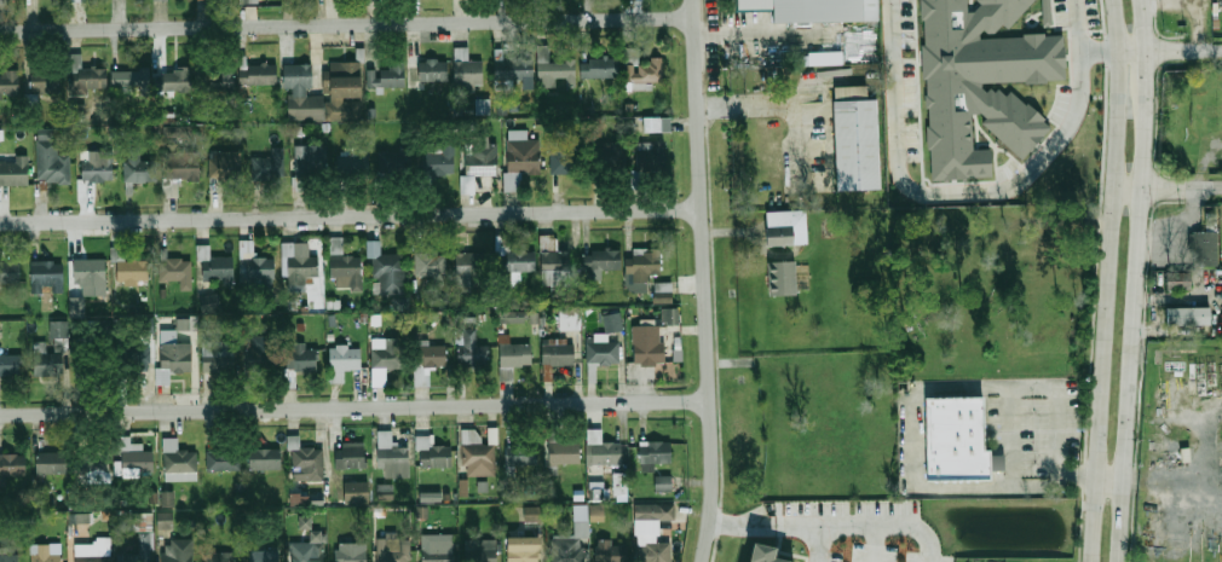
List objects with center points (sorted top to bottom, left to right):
building: (249, 0)
building: (822, 7)
building: (1049, 8)
road: (345, 23)
road: (734, 33)
building: (864, 40)
road: (1077, 46)
road: (1170, 50)
building: (513, 65)
building: (599, 66)
building: (466, 68)
building: (554, 69)
building: (645, 69)
building: (432, 70)
building: (258, 74)
building: (386, 75)
building: (83, 77)
building: (131, 77)
building: (985, 79)
building: (44, 81)
building: (169, 81)
building: (220, 81)
building: (8, 82)
building: (345, 91)
building: (301, 94)
road: (768, 104)
building: (482, 106)
building: (657, 123)
building: (177, 131)
building: (858, 135)
building: (612, 155)
building: (650, 155)
building: (482, 160)
building: (520, 161)
building: (52, 162)
building: (310, 162)
building: (396, 162)
building: (438, 162)
building: (566, 162)
building: (352, 163)
building: (269, 164)
building: (98, 166)
building: (138, 166)
building: (229, 166)
building: (179, 170)
building: (13, 172)
road: (1166, 189)
road: (944, 196)
road: (350, 215)
building: (788, 227)
building: (1204, 247)
building: (606, 259)
building: (512, 261)
building: (553, 261)
building: (644, 263)
building: (431, 266)
building: (472, 268)
building: (131, 270)
building: (218, 270)
building: (175, 271)
building: (10, 272)
building: (259, 272)
building: (301, 272)
building: (346, 272)
building: (388, 273)
building: (46, 276)
building: (783, 278)
road: (704, 280)
road: (1106, 280)
road: (1142, 280)
building: (1178, 280)
building: (91, 282)
building: (662, 291)
building: (399, 302)
building: (209, 303)
building: (669, 315)
building: (1188, 315)
building: (569, 319)
building: (613, 323)
building: (59, 329)
building: (647, 344)
building: (471, 349)
building: (601, 352)
building: (558, 353)
building: (430, 355)
building: (177, 357)
building: (218, 357)
building: (93, 358)
building: (512, 358)
building: (138, 359)
building: (381, 359)
building: (299, 360)
building: (342, 360)
building: (260, 361)
building: (48, 363)
building: (10, 364)
road: (355, 407)
road: (917, 412)
building: (957, 435)
building: (601, 448)
building: (564, 452)
building: (655, 452)
building: (520, 453)
building: (432, 454)
building: (348, 456)
building: (391, 456)
building: (136, 458)
building: (264, 459)
building: (479, 459)
building: (997, 459)
building: (223, 460)
building: (178, 462)
building: (12, 464)
building: (51, 464)
building: (306, 464)
building: (98, 467)
road: (1112, 480)
building: (662, 481)
building: (599, 491)
building: (355, 492)
building: (152, 497)
building: (167, 498)
building: (299, 500)
building: (532, 512)
building: (596, 512)
building: (79, 517)
building: (165, 520)
building: (304, 521)
road: (743, 521)
road: (866, 521)
building: (651, 532)
building: (571, 538)
road: (817, 541)
road: (874, 541)
building: (307, 547)
building: (392, 549)
building: (436, 549)
building: (523, 549)
building: (92, 550)
building: (139, 550)
building: (178, 551)
building: (479, 551)
building: (610, 551)
building: (46, 552)
building: (263, 554)
building: (350, 555)
building: (761, 555)
building: (219, 556)
building: (8, 557)

